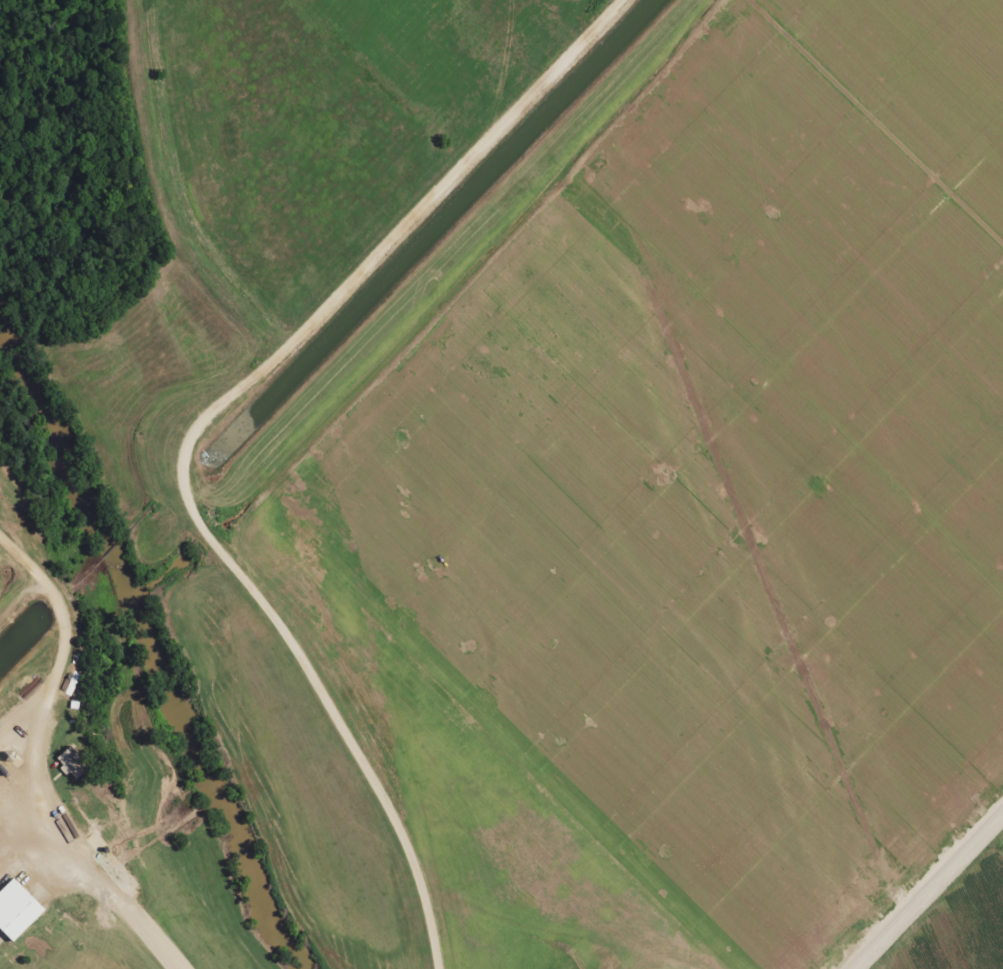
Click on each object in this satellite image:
road: (196, 432)
building: (71, 764)
building: (22, 911)
road: (951, 921)

